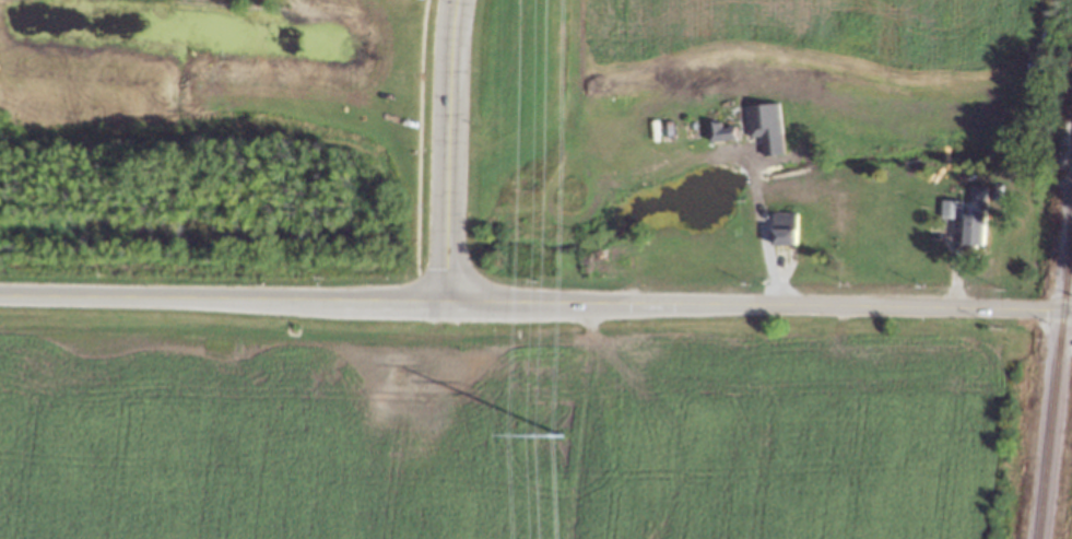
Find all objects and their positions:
crop: (828, 73)
building: (765, 127)
building: (720, 131)
park: (204, 140)
park: (516, 143)
road: (440, 150)
building: (977, 194)
building: (950, 209)
building: (782, 227)
building: (975, 227)
road: (285, 300)
road: (822, 308)
railway: (1053, 383)
power tower: (561, 447)
crop: (1070, 525)

